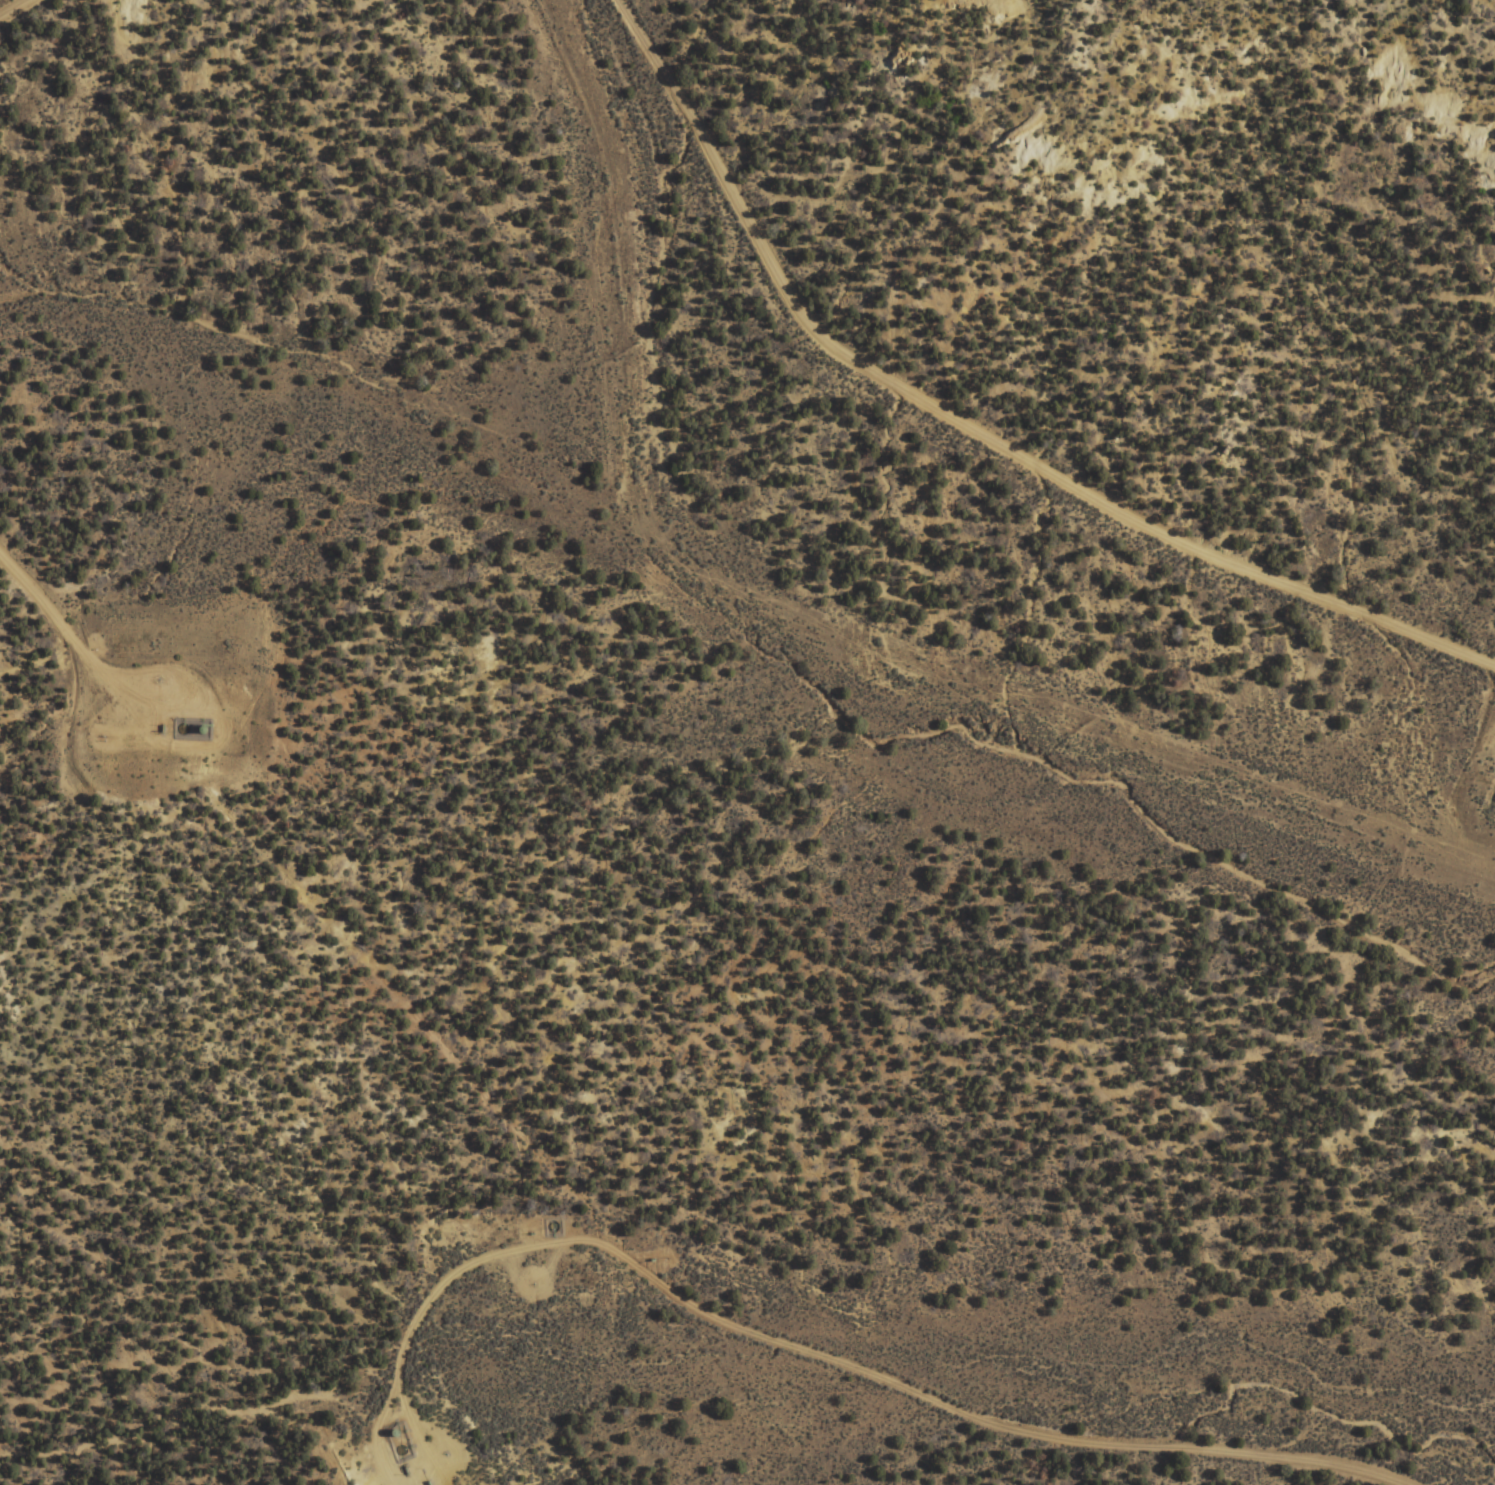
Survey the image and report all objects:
road: (21, 14)
road: (934, 451)
road: (775, 1362)

